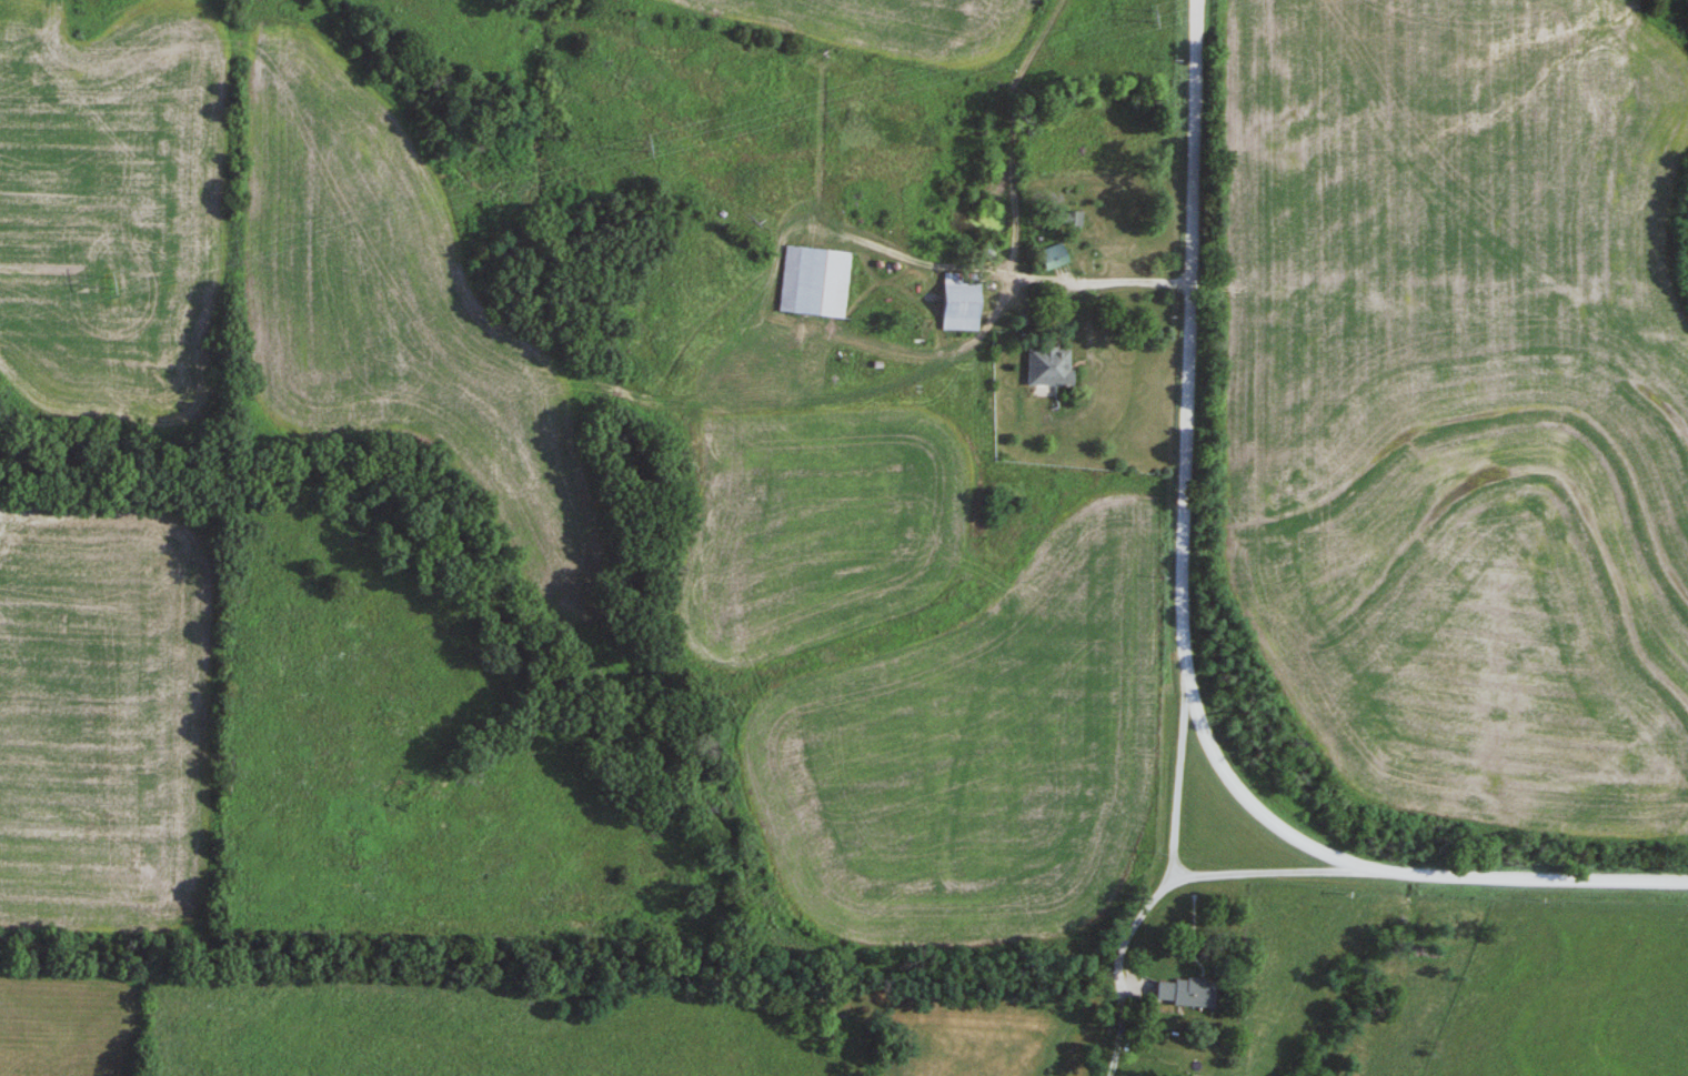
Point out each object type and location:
power tower: (1153, 17)
road: (1007, 131)
power tower: (645, 144)
building: (816, 281)
power tower: (107, 282)
building: (964, 301)
road: (830, 340)
building: (1052, 366)
road: (1180, 640)
road: (1177, 784)
road: (1264, 876)
road: (1129, 942)
building: (1189, 992)

